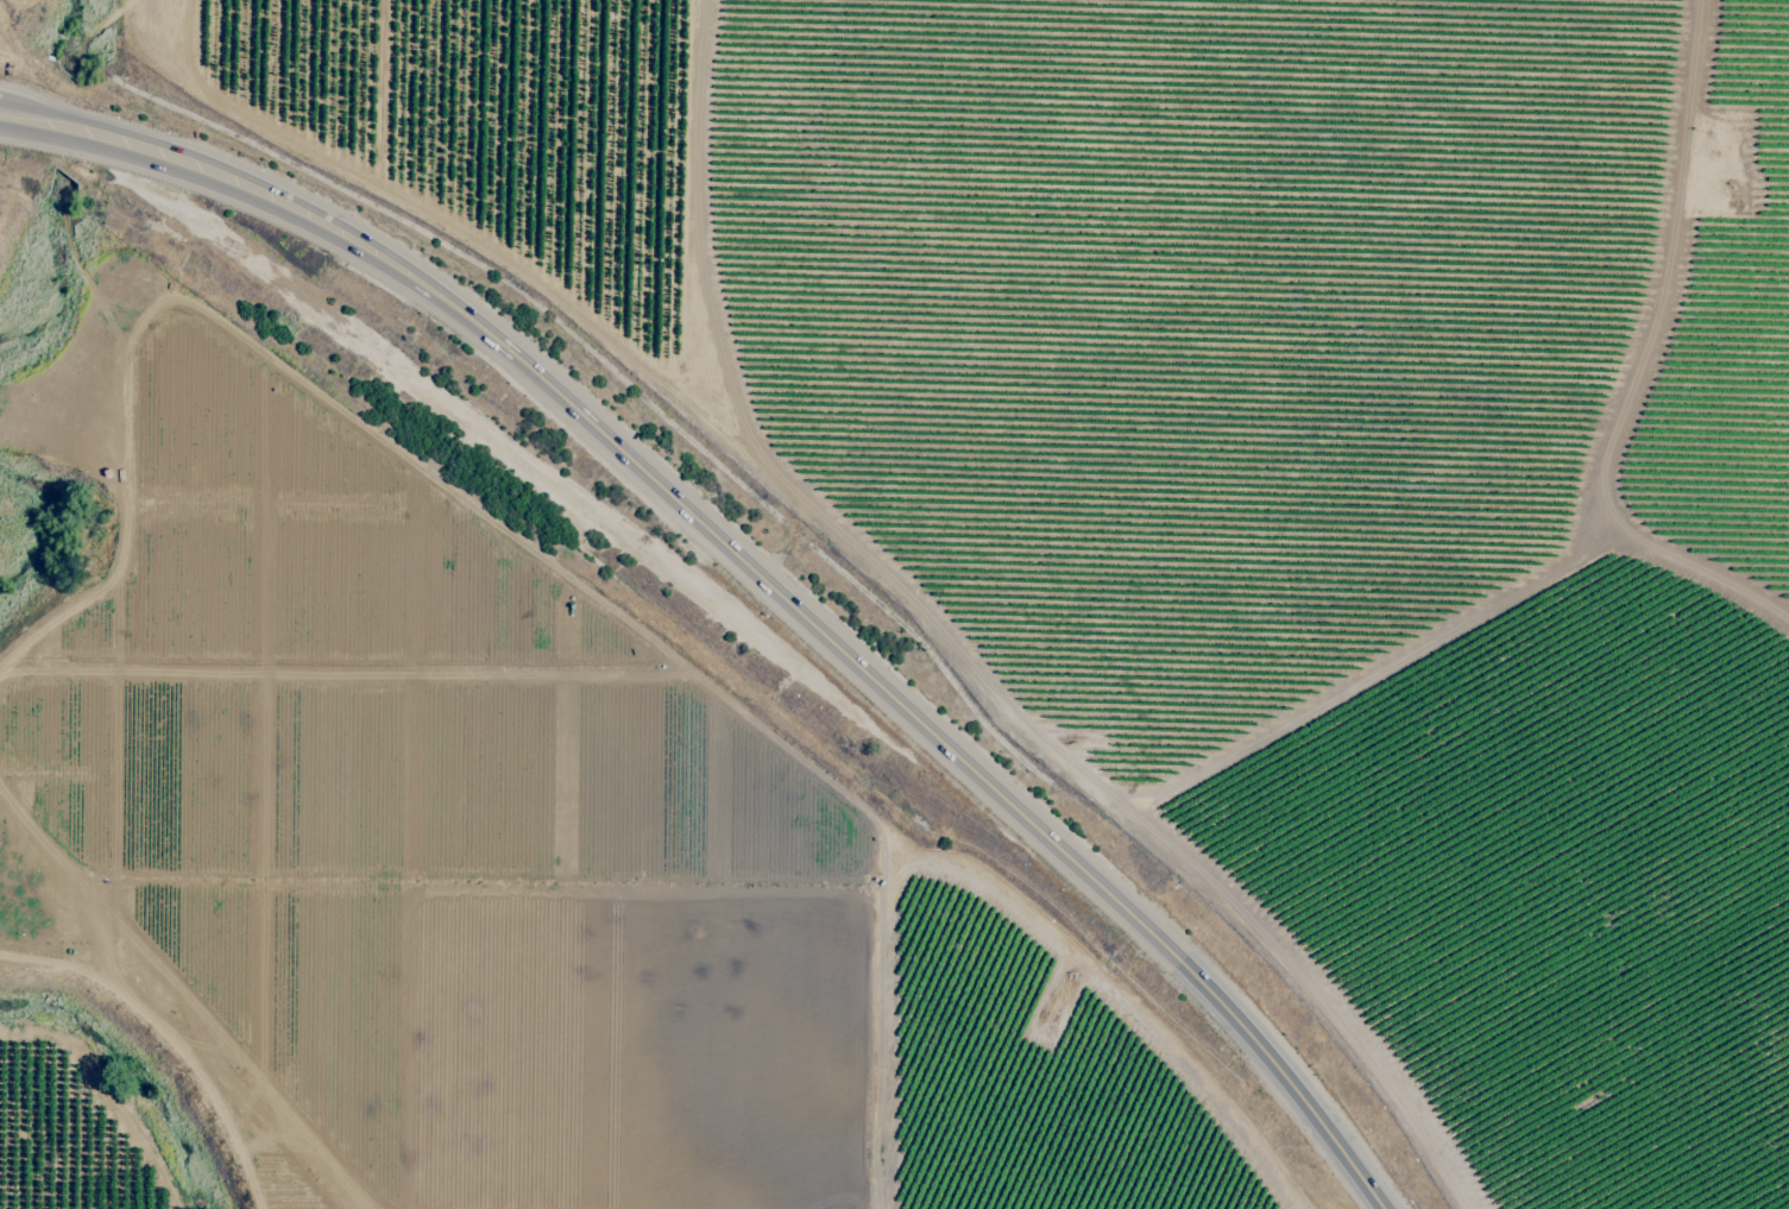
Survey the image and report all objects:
road: (20, 115)
road: (768, 585)
crop: (894, 604)

